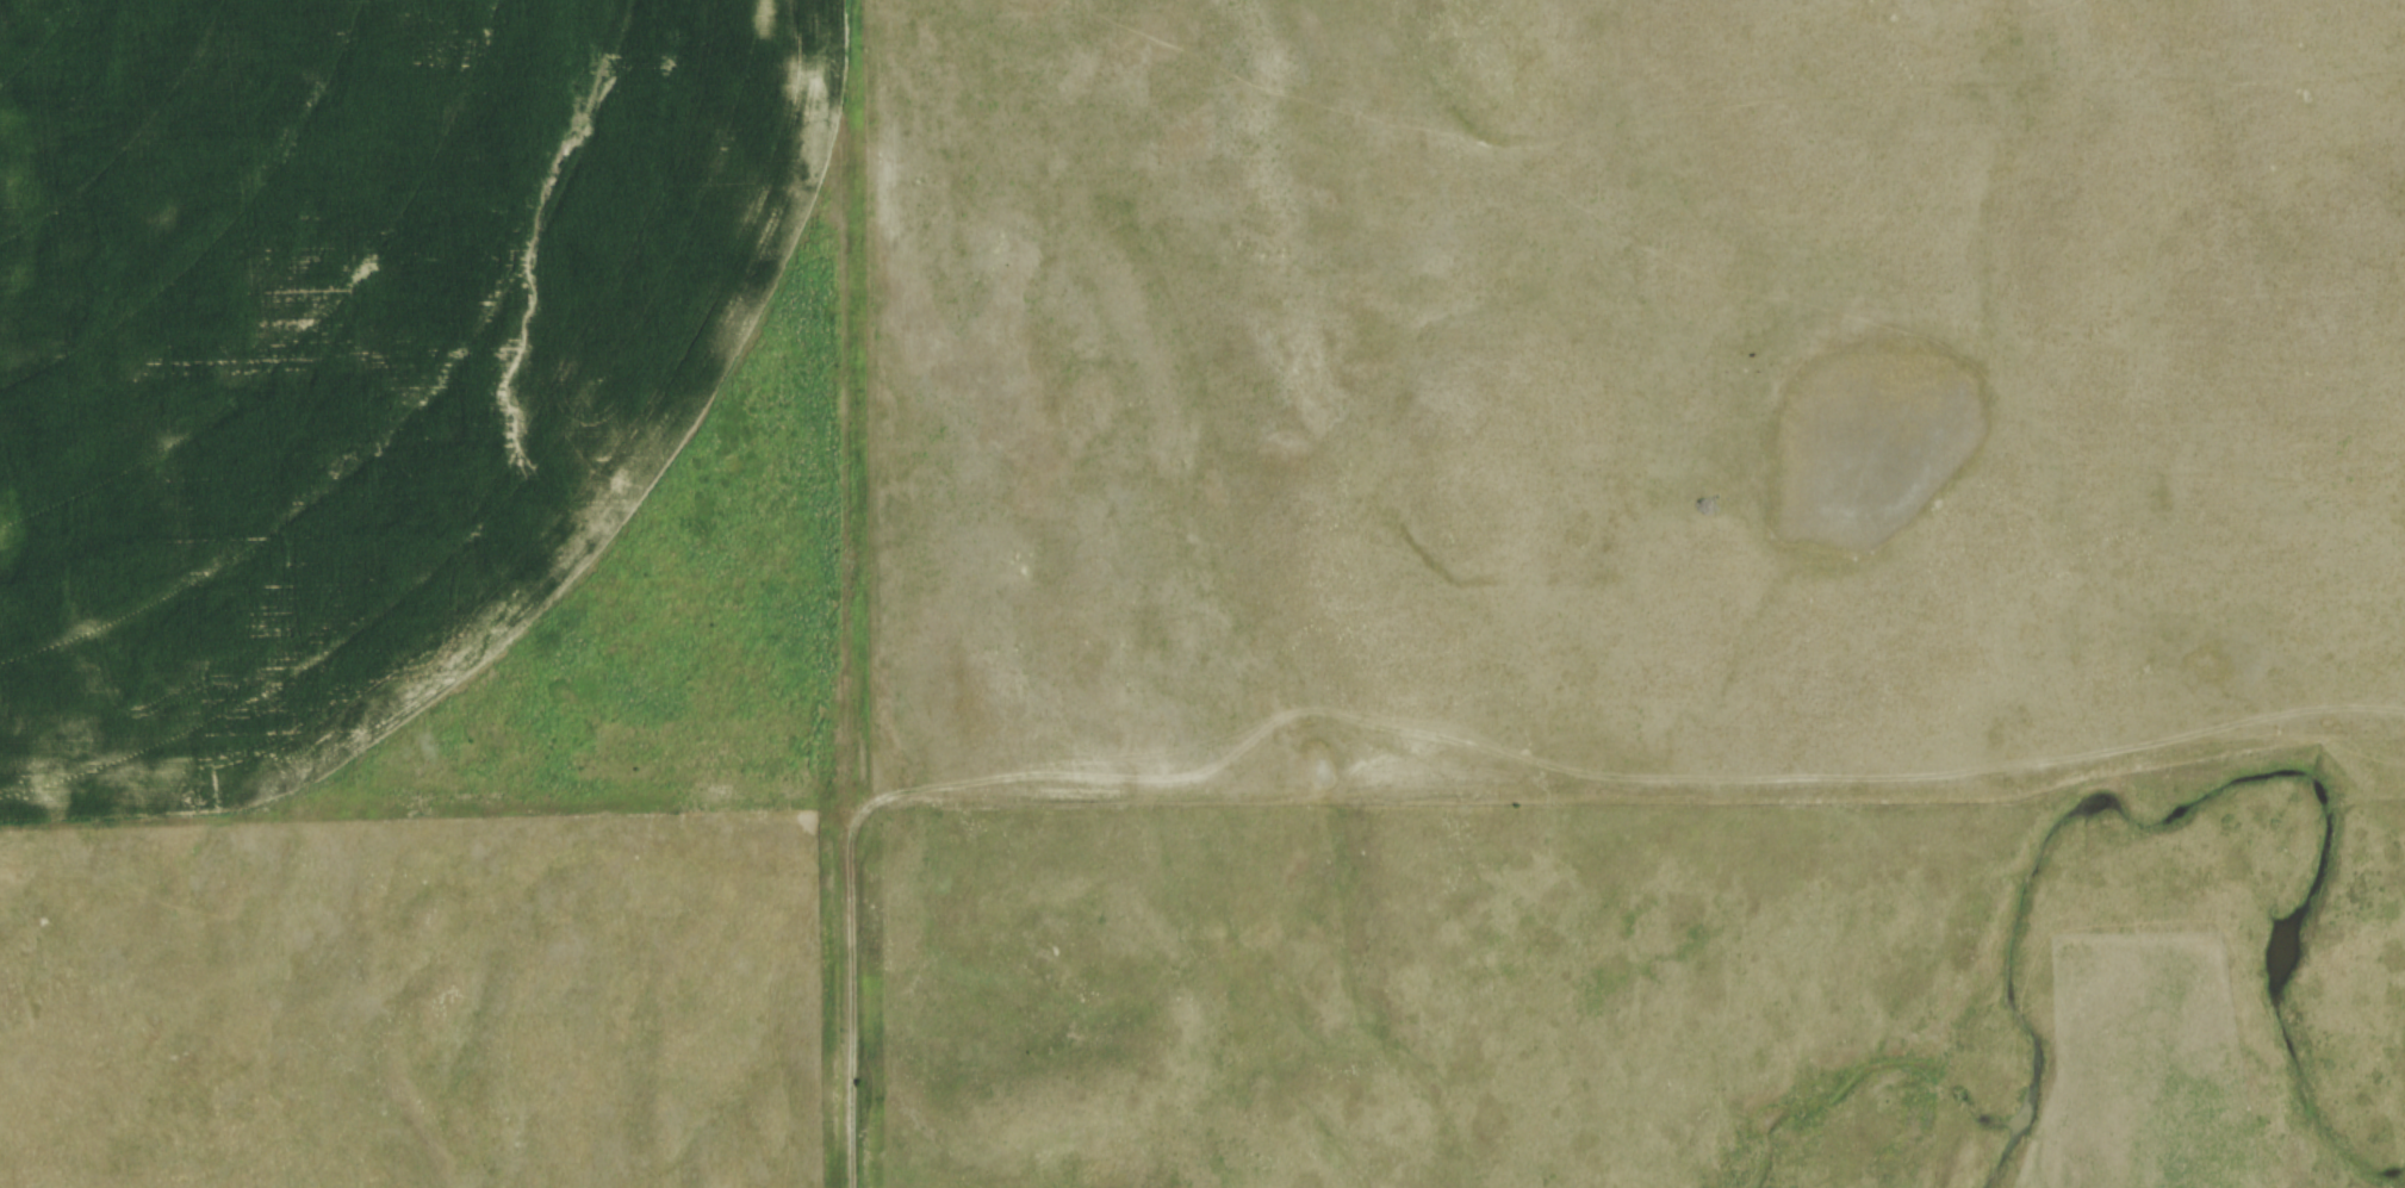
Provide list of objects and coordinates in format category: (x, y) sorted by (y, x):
road: (849, 593)

